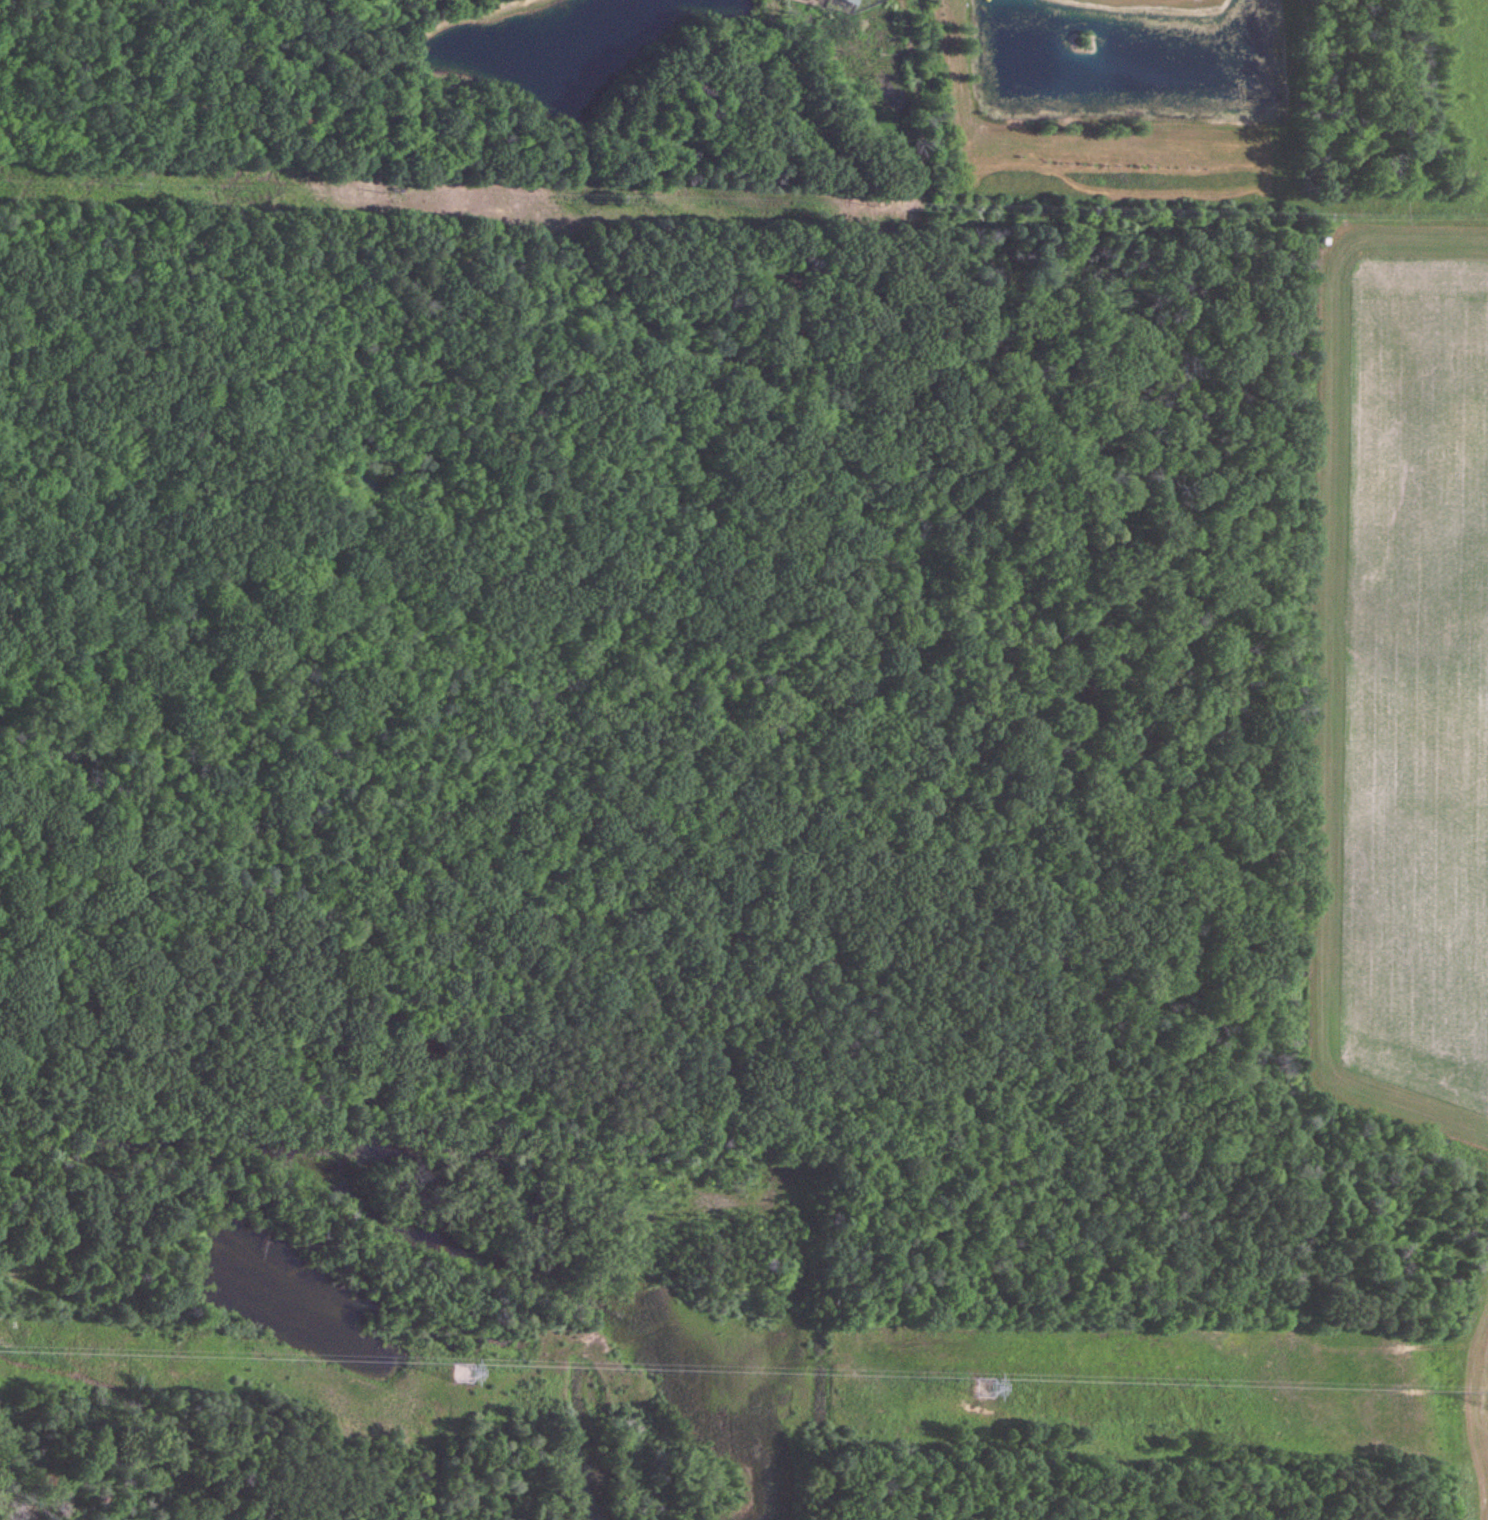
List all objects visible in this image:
road: (1128, 198)
road: (1323, 207)
crop: (1421, 681)
road: (1331, 721)
road: (92, 1320)
road: (1478, 1338)
power tower: (464, 1376)
power tower: (987, 1390)

